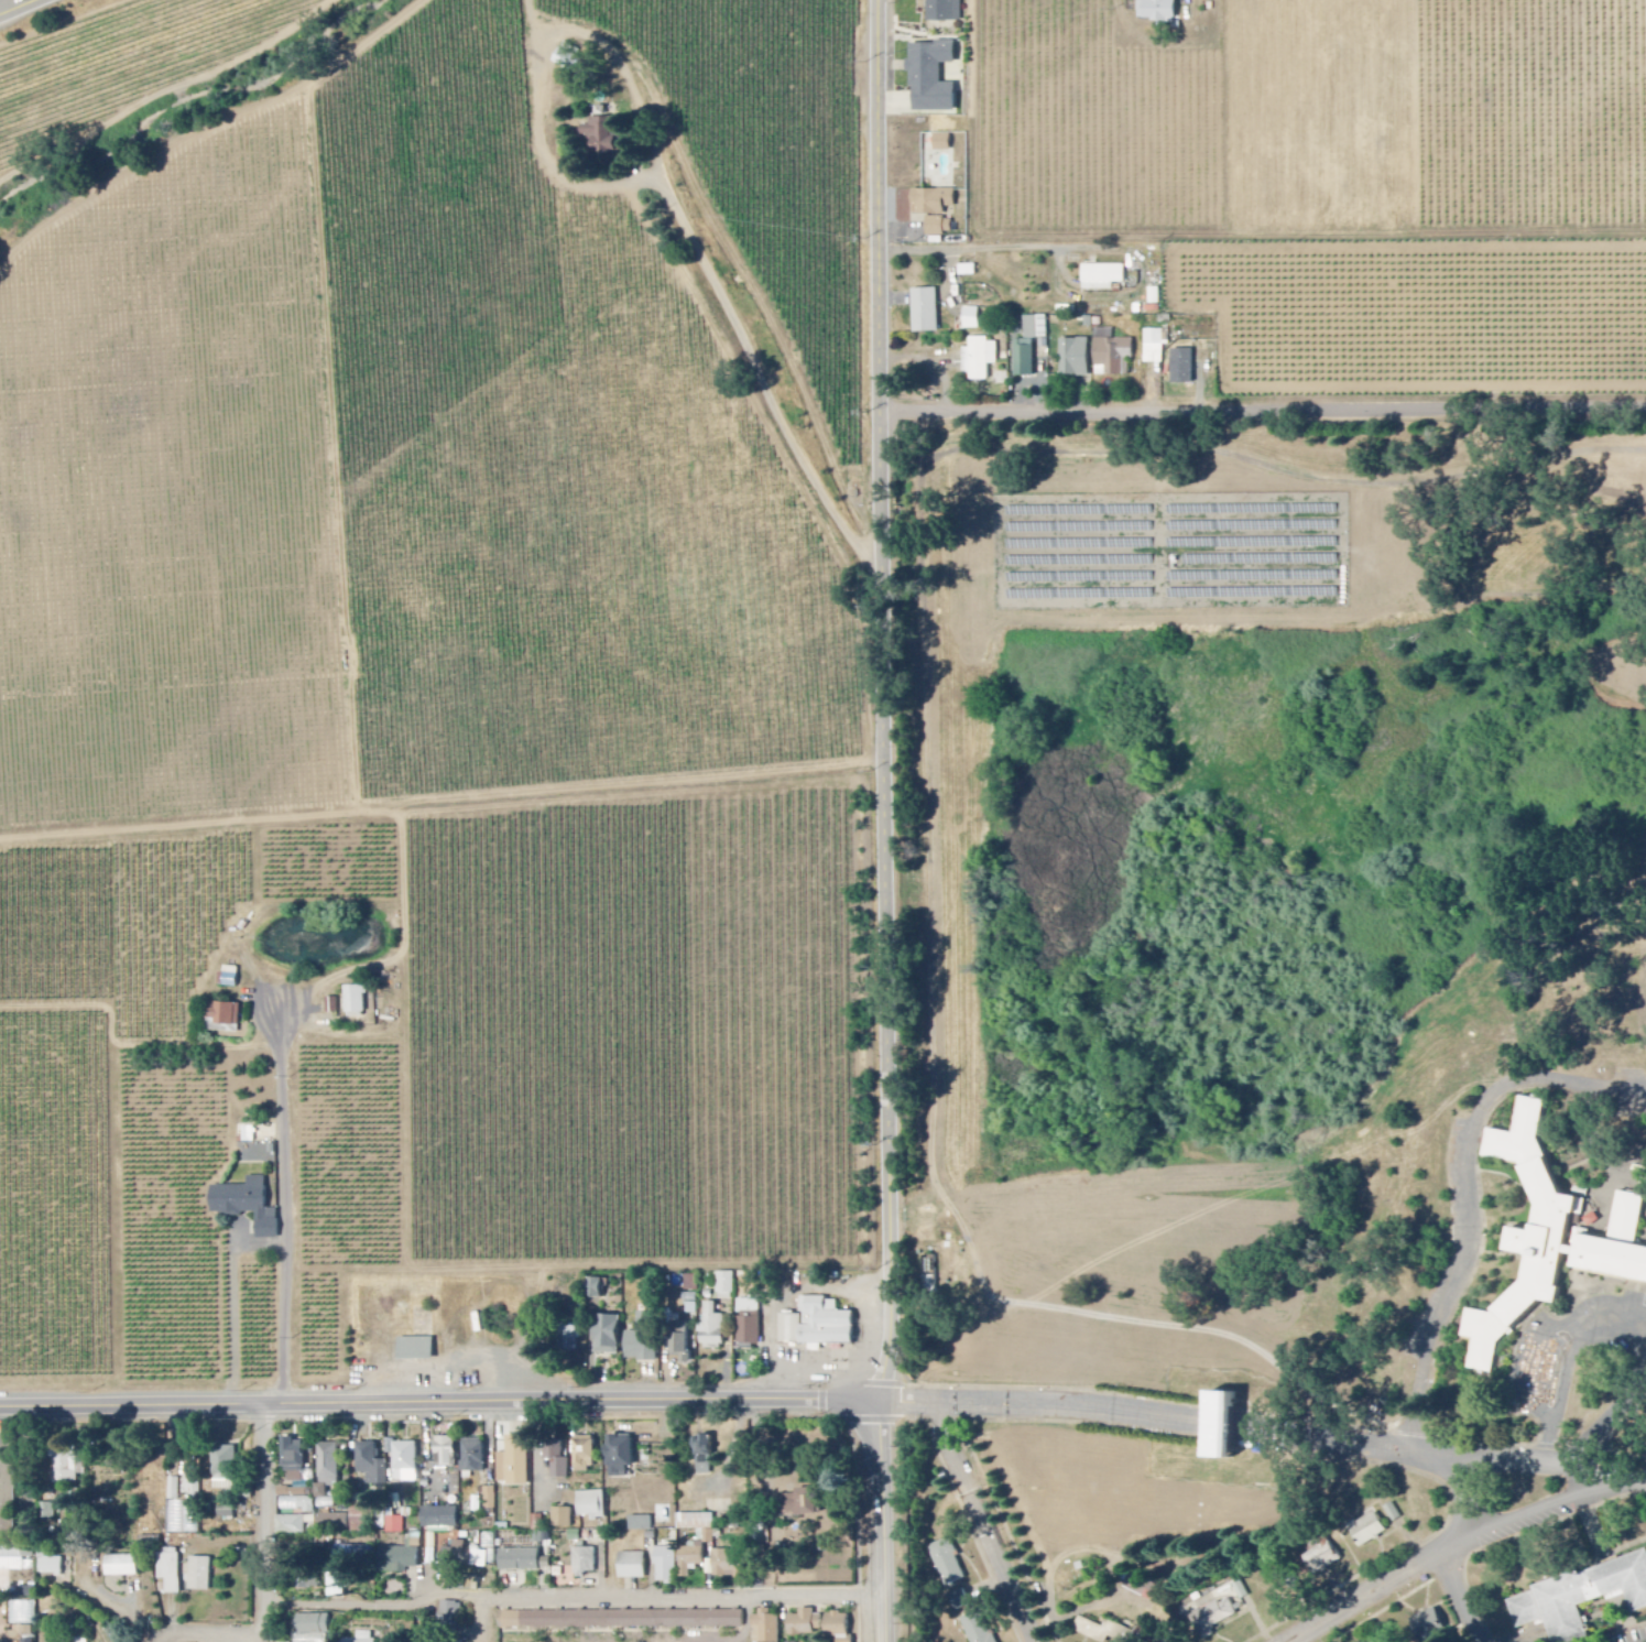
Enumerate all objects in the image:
road: (24, 9)
building: (944, 10)
building: (1157, 10)
building: (929, 78)
building: (597, 134)
building: (941, 143)
building: (931, 203)
building: (938, 227)
road: (1023, 247)
road: (694, 250)
building: (1101, 278)
building: (924, 311)
building: (970, 319)
building: (1034, 328)
building: (1154, 346)
building: (1111, 354)
building: (978, 359)
building: (1023, 359)
building: (1072, 359)
building: (1180, 367)
road: (1263, 414)
road: (1603, 673)
road: (884, 702)
building: (233, 978)
building: (353, 1000)
building: (229, 1013)
road: (974, 1110)
building: (257, 1153)
building: (246, 1205)
road: (1473, 1205)
road: (285, 1210)
building: (1552, 1238)
building: (690, 1283)
building: (724, 1286)
building: (595, 1287)
building: (690, 1304)
building: (748, 1322)
building: (816, 1325)
building: (711, 1328)
road: (1602, 1331)
building: (604, 1335)
building: (679, 1345)
building: (640, 1347)
building: (414, 1349)
road: (443, 1404)
building: (1218, 1425)
road: (1265, 1432)
building: (444, 1451)
building: (582, 1454)
building: (472, 1456)
building: (618, 1456)
building: (702, 1456)
building: (292, 1459)
building: (557, 1459)
building: (404, 1462)
building: (513, 1462)
building: (64, 1465)
building: (371, 1465)
building: (222, 1468)
building: (327, 1468)
building: (7, 1498)
building: (799, 1502)
building: (590, 1504)
building: (296, 1505)
building: (46, 1511)
building: (1392, 1513)
road: (1467, 1513)
road: (1533, 1514)
building: (438, 1519)
building: (562, 1519)
building: (331, 1521)
road: (885, 1523)
building: (640, 1524)
road: (983, 1524)
building: (394, 1525)
building: (698, 1525)
building: (290, 1526)
building: (1366, 1531)
building: (1320, 1558)
building: (13, 1559)
building: (689, 1559)
building: (396, 1561)
building: (519, 1561)
road: (266, 1562)
building: (584, 1562)
building: (947, 1563)
building: (664, 1565)
building: (727, 1565)
building: (48, 1566)
building: (119, 1566)
building: (631, 1566)
building: (168, 1572)
building: (198, 1575)
building: (307, 1581)
building: (334, 1585)
building: (1240, 1590)
building: (1582, 1598)
road: (1367, 1600)
road: (1458, 1600)
road: (574, 1602)
building: (450, 1613)
building: (1214, 1617)
building: (674, 1618)
building: (719, 1618)
building: (542, 1619)
building: (586, 1619)
building: (630, 1619)
road: (478, 1620)
building: (509, 1620)
road: (760, 1622)
building: (1426, 1623)
building: (818, 1624)
building: (764, 1628)
building: (977, 1628)
building: (310, 1629)
building: (1101, 1631)
building: (361, 1638)
building: (77, 1641)

